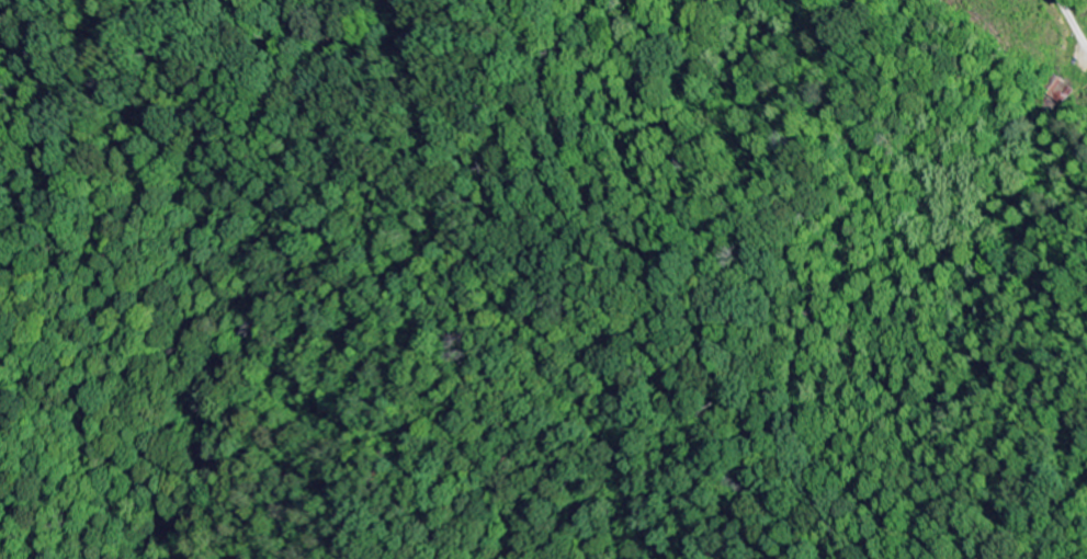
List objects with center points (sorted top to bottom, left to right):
road: (1073, 22)

